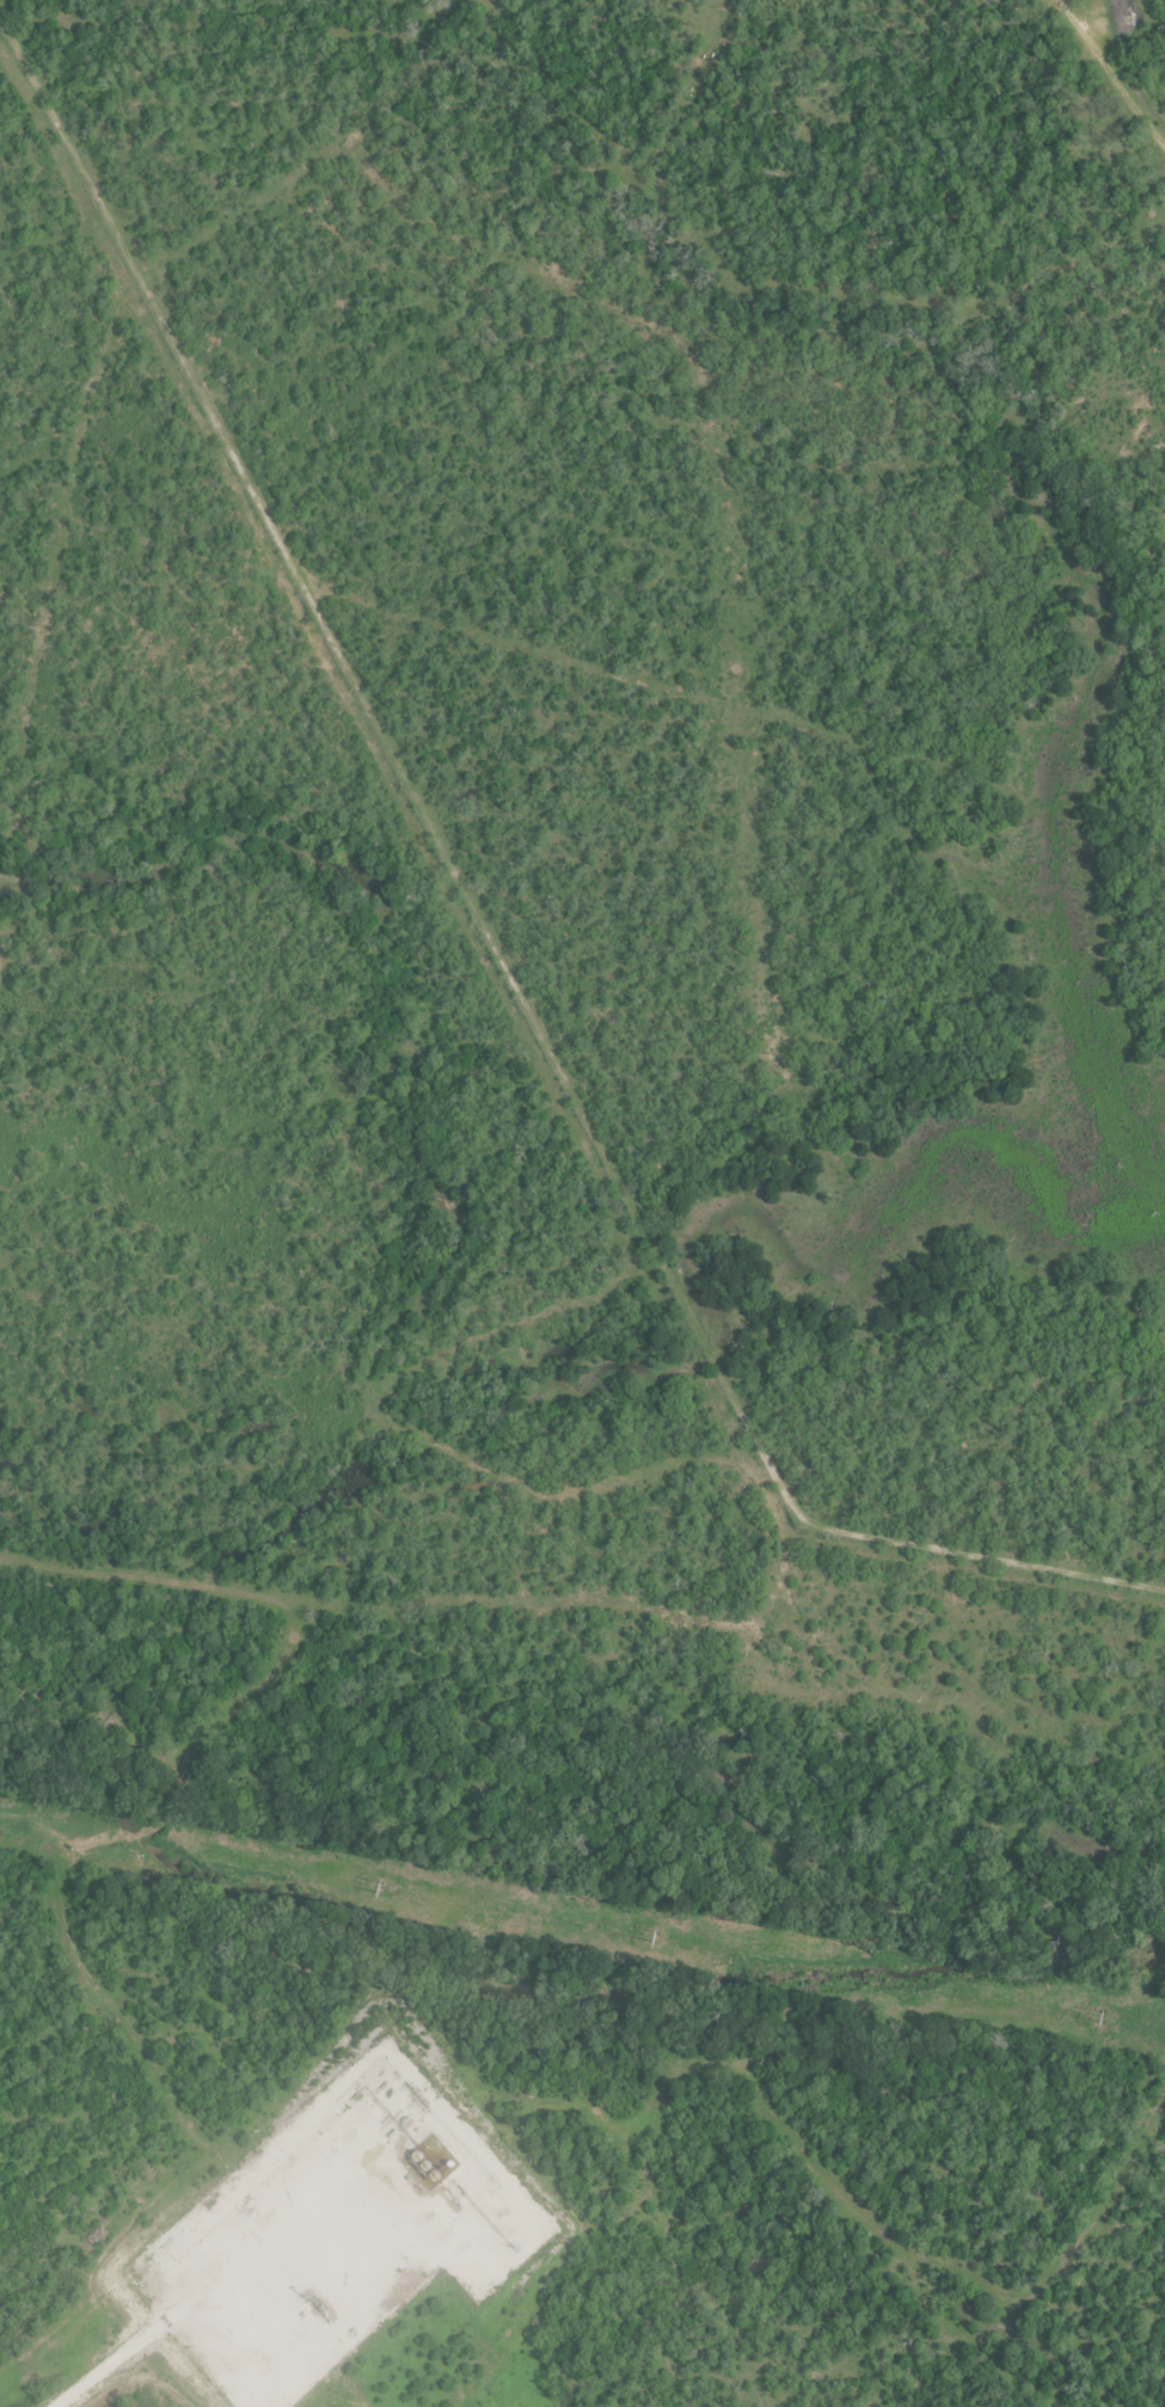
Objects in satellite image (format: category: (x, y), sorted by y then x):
power tower: (379, 1891)
power tower: (655, 1939)
power tower: (1100, 2019)
road: (257, 2247)

